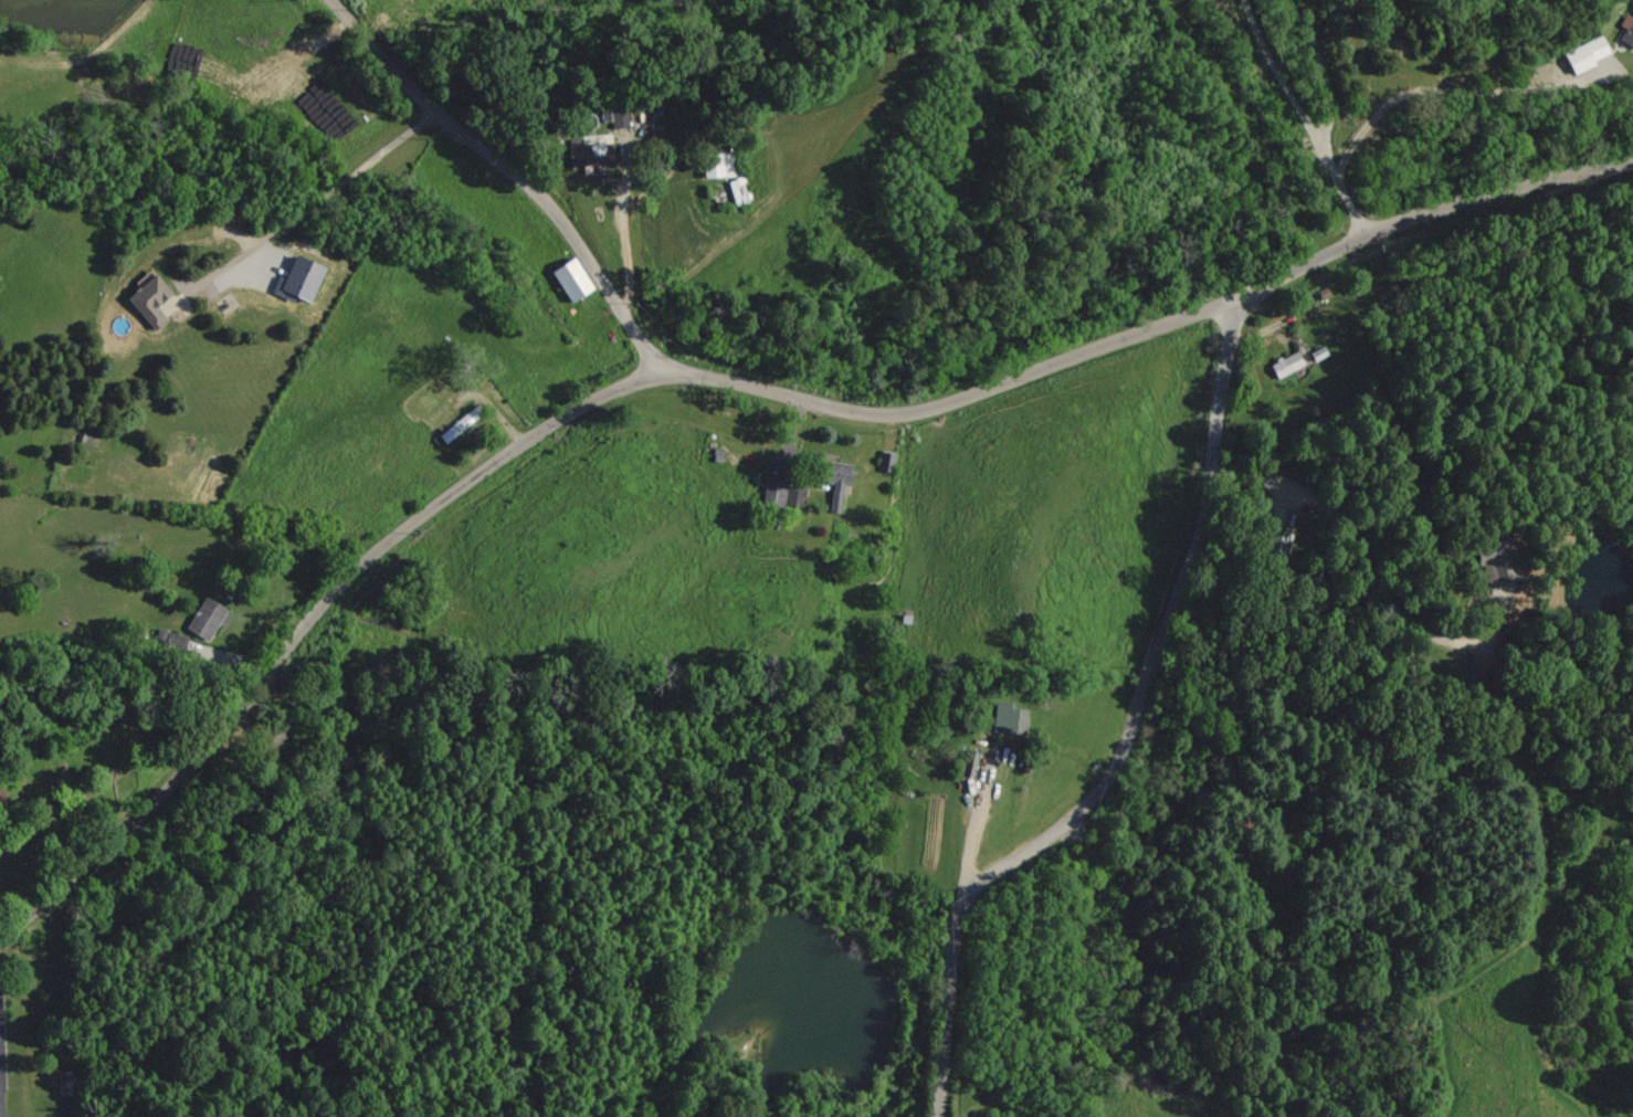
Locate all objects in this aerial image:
building: (1585, 54)
road: (1282, 76)
road: (1420, 88)
building: (618, 118)
road: (1327, 119)
building: (591, 150)
building: (717, 166)
road: (513, 172)
building: (738, 190)
building: (569, 280)
building: (296, 281)
building: (148, 301)
building: (1286, 365)
road: (731, 381)
building: (460, 423)
building: (834, 482)
building: (778, 494)
building: (1500, 559)
road: (1370, 566)
building: (208, 620)
building: (1008, 719)
road: (1125, 735)

